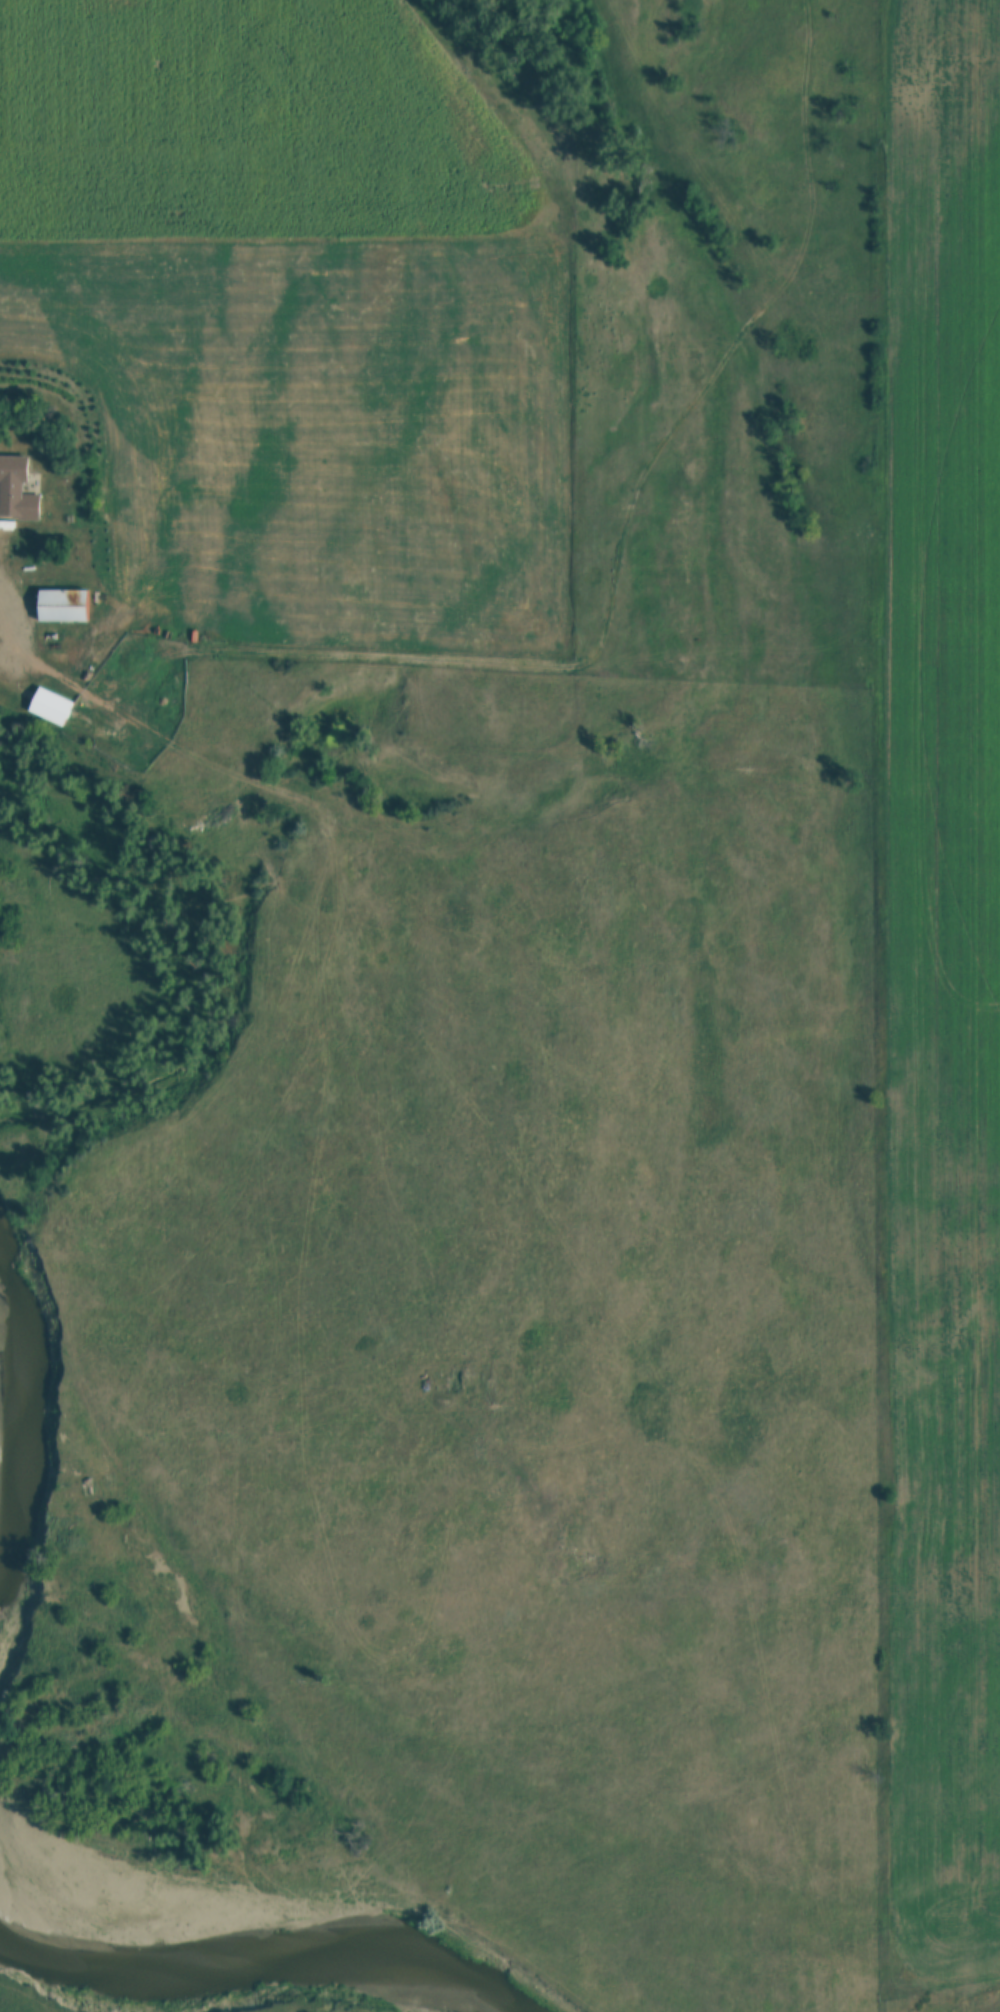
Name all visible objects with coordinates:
building: (17, 488)
building: (64, 604)

